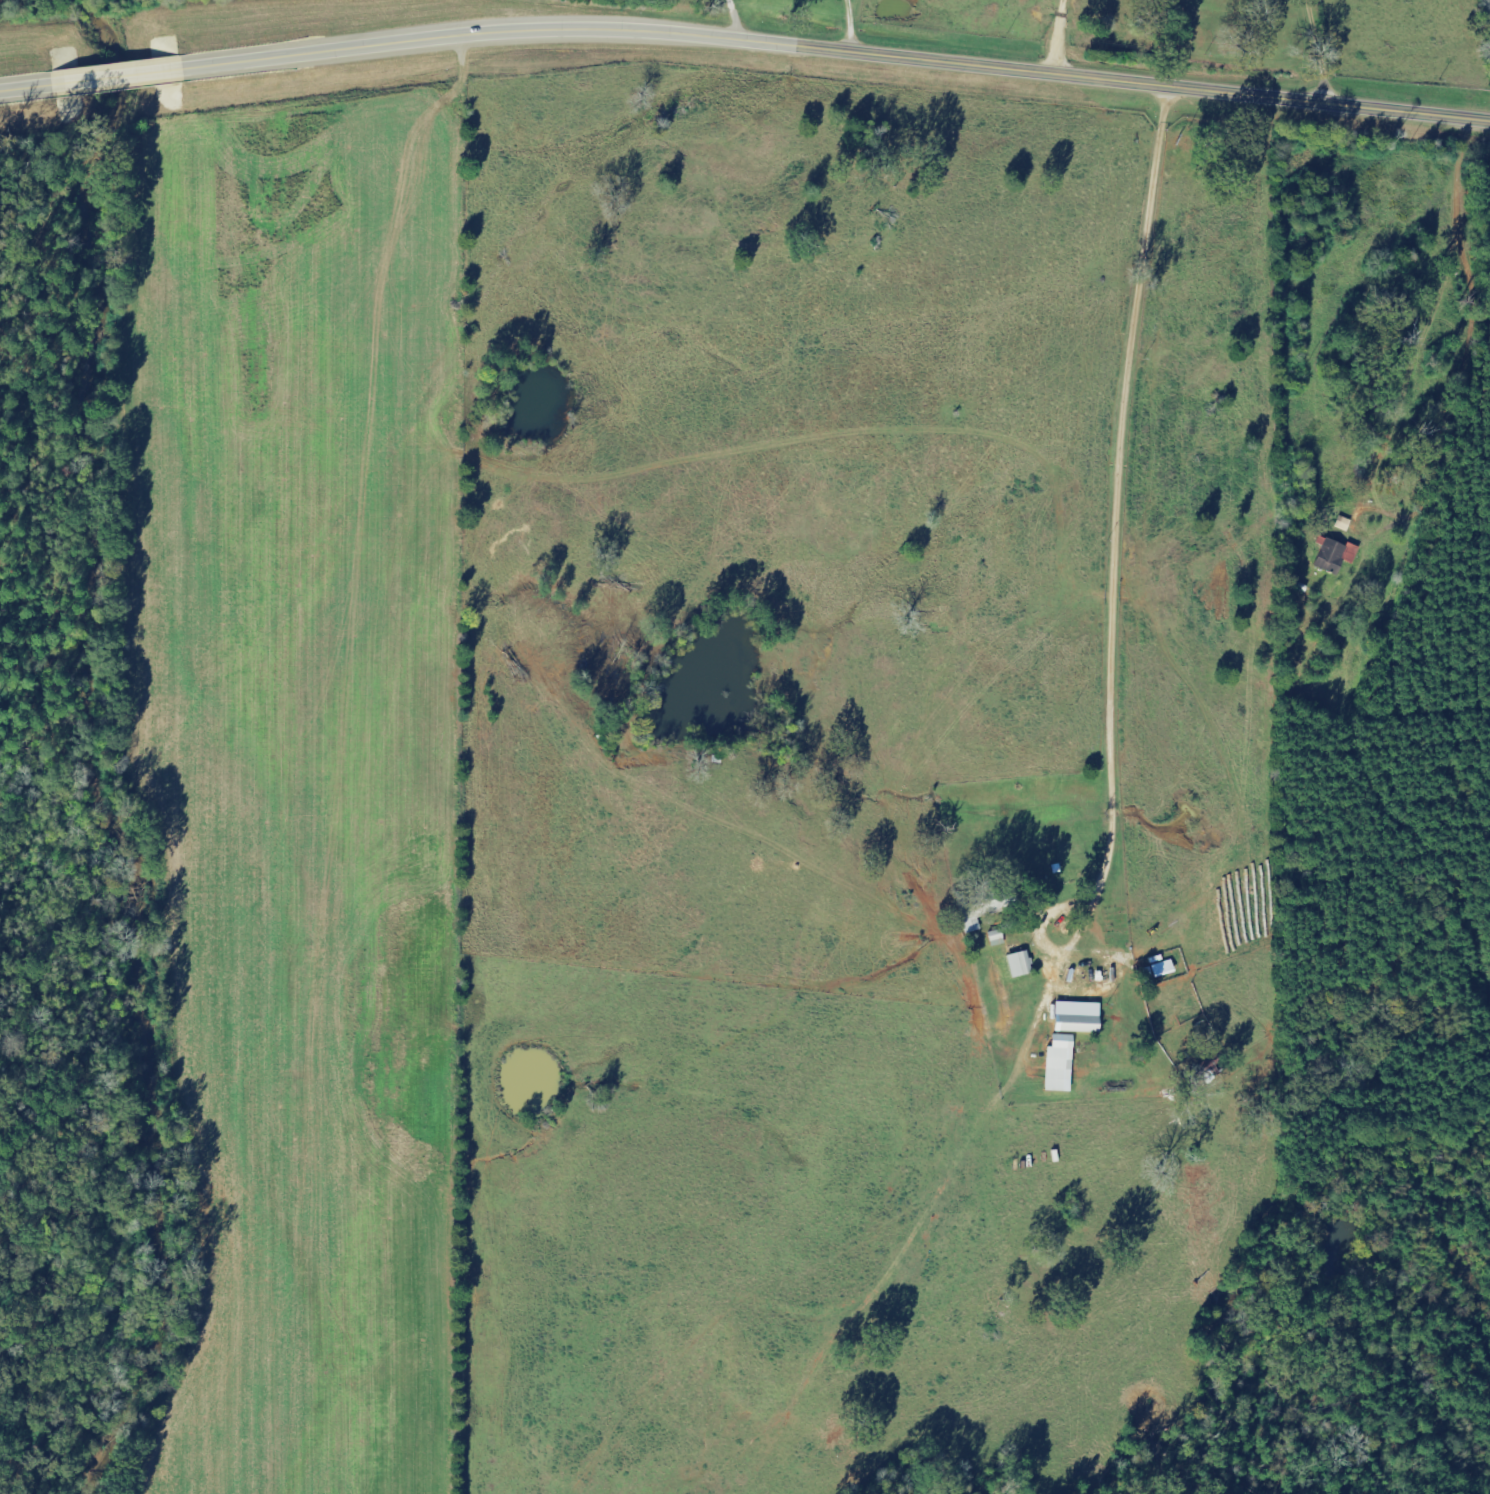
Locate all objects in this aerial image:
road: (745, 39)
road: (1482, 483)
road: (1134, 514)
building: (1345, 524)
building: (1337, 556)
building: (980, 906)
building: (1021, 964)
building: (1079, 1017)
building: (1061, 1064)

